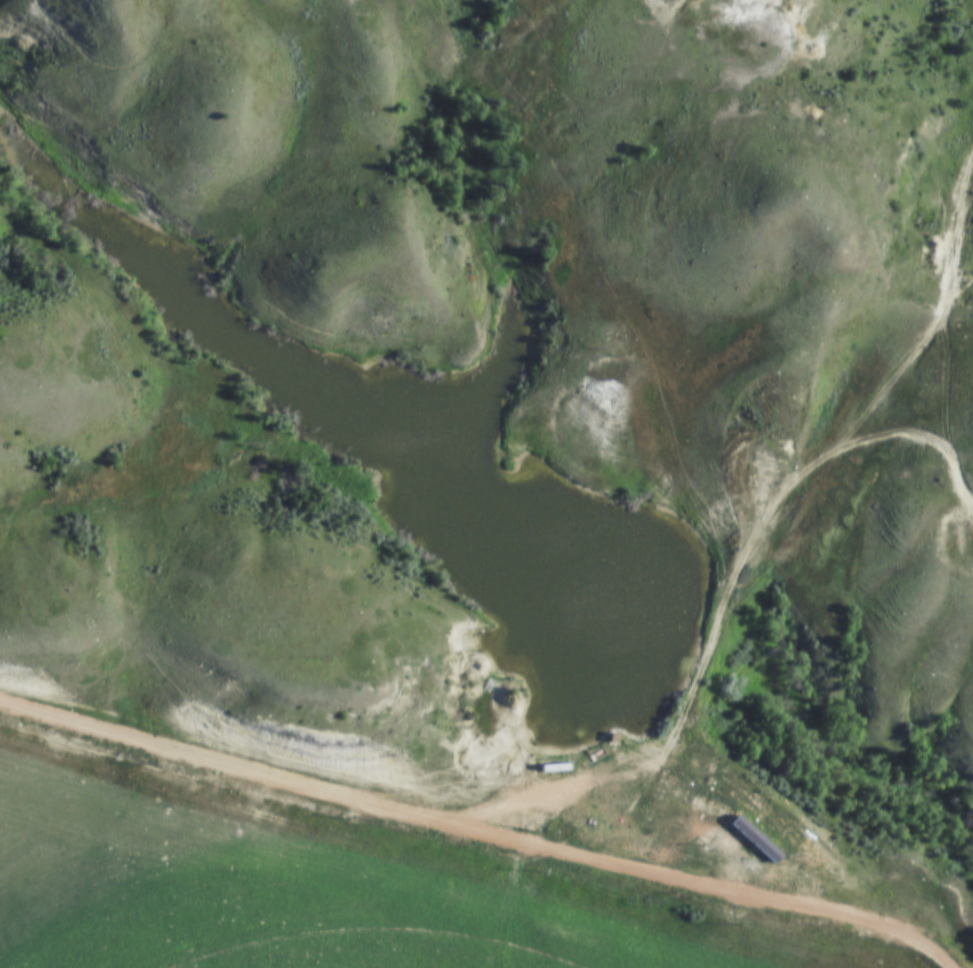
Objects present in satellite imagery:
road: (950, 335)
road: (749, 548)
road: (326, 812)

